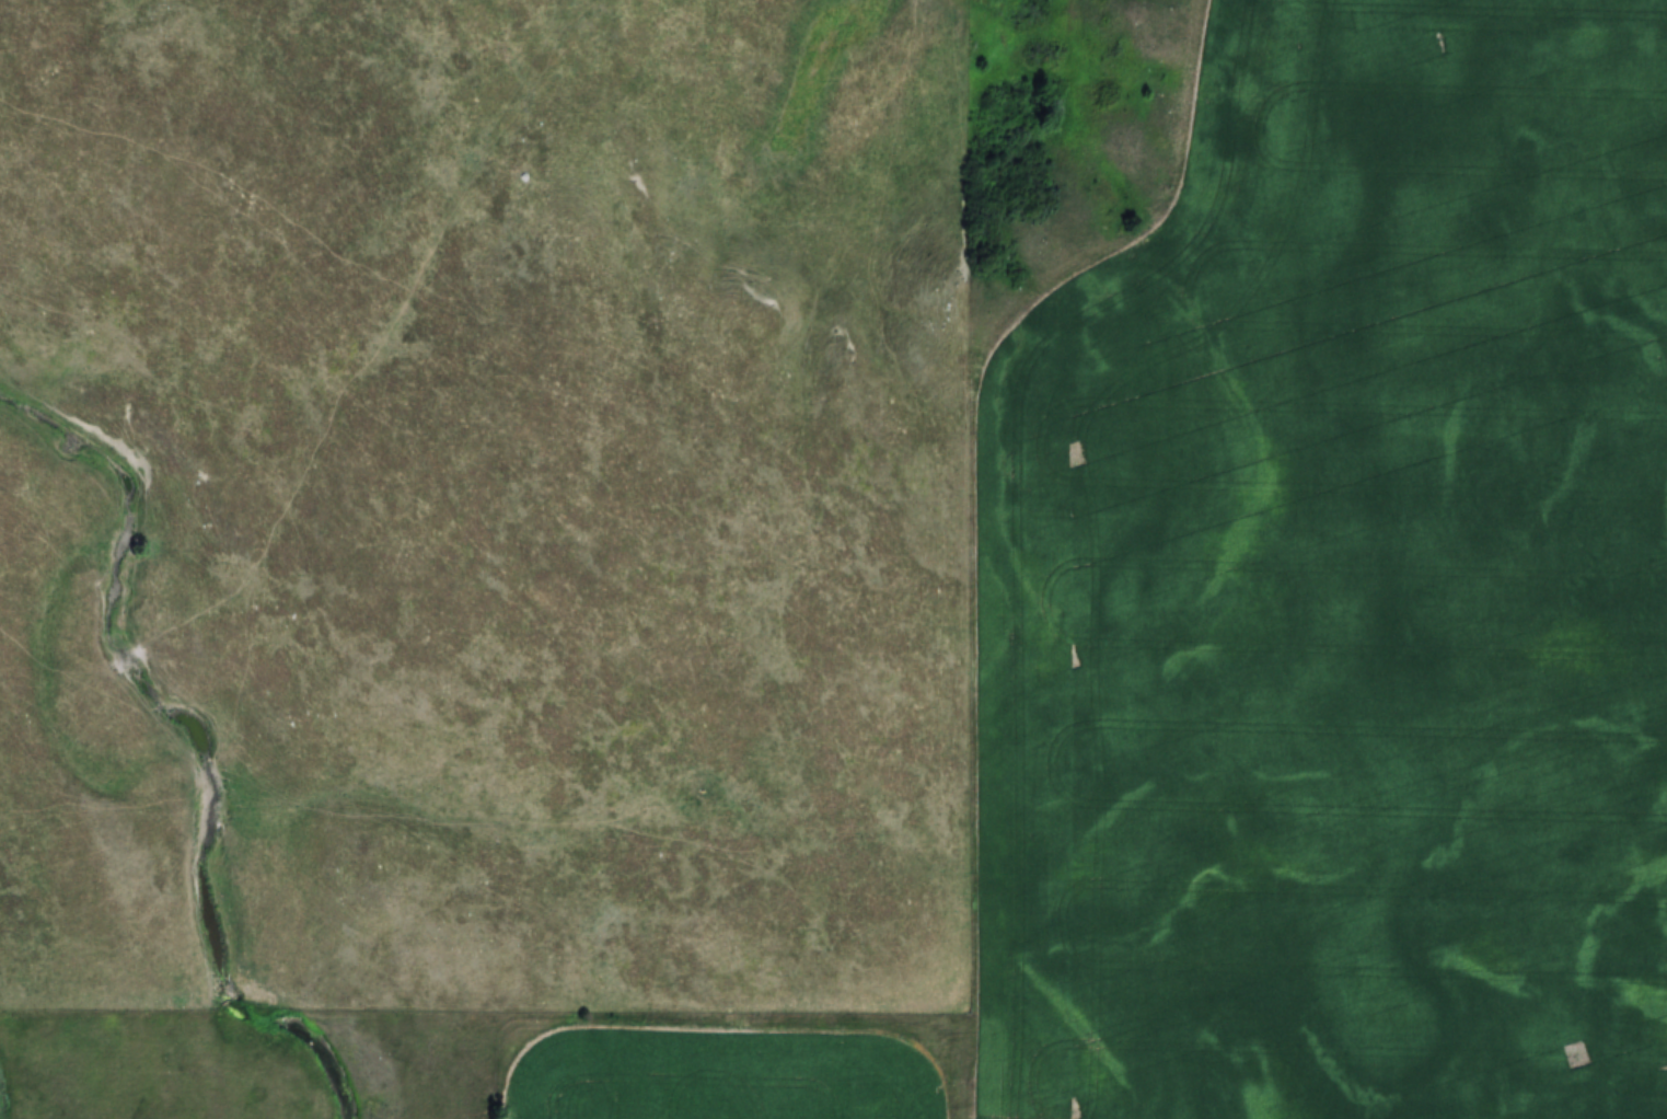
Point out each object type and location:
crop: (725, 1072)

